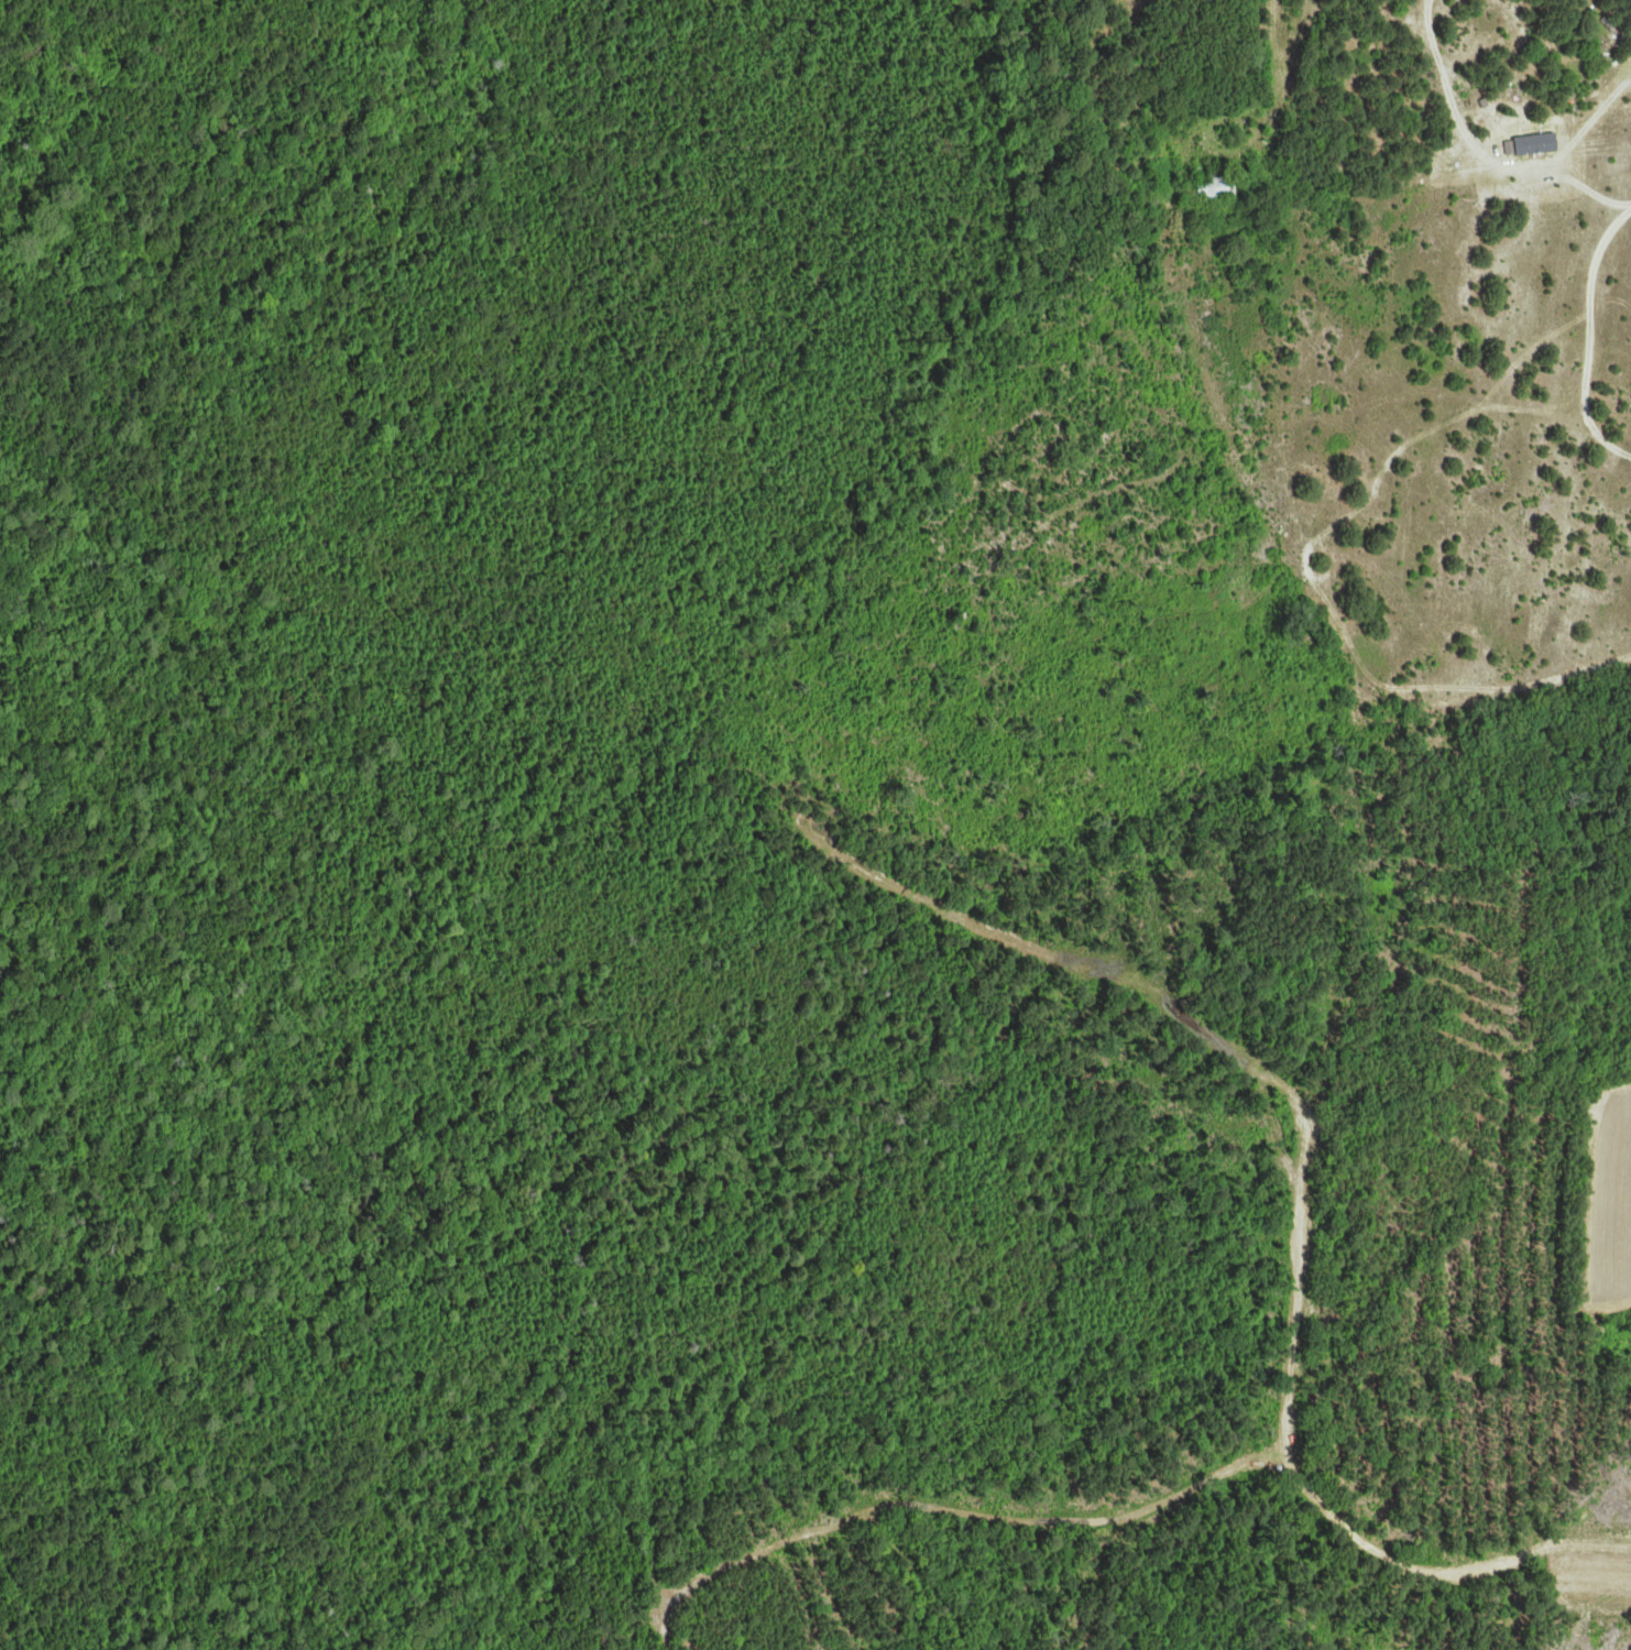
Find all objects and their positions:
building: (1218, 187)

